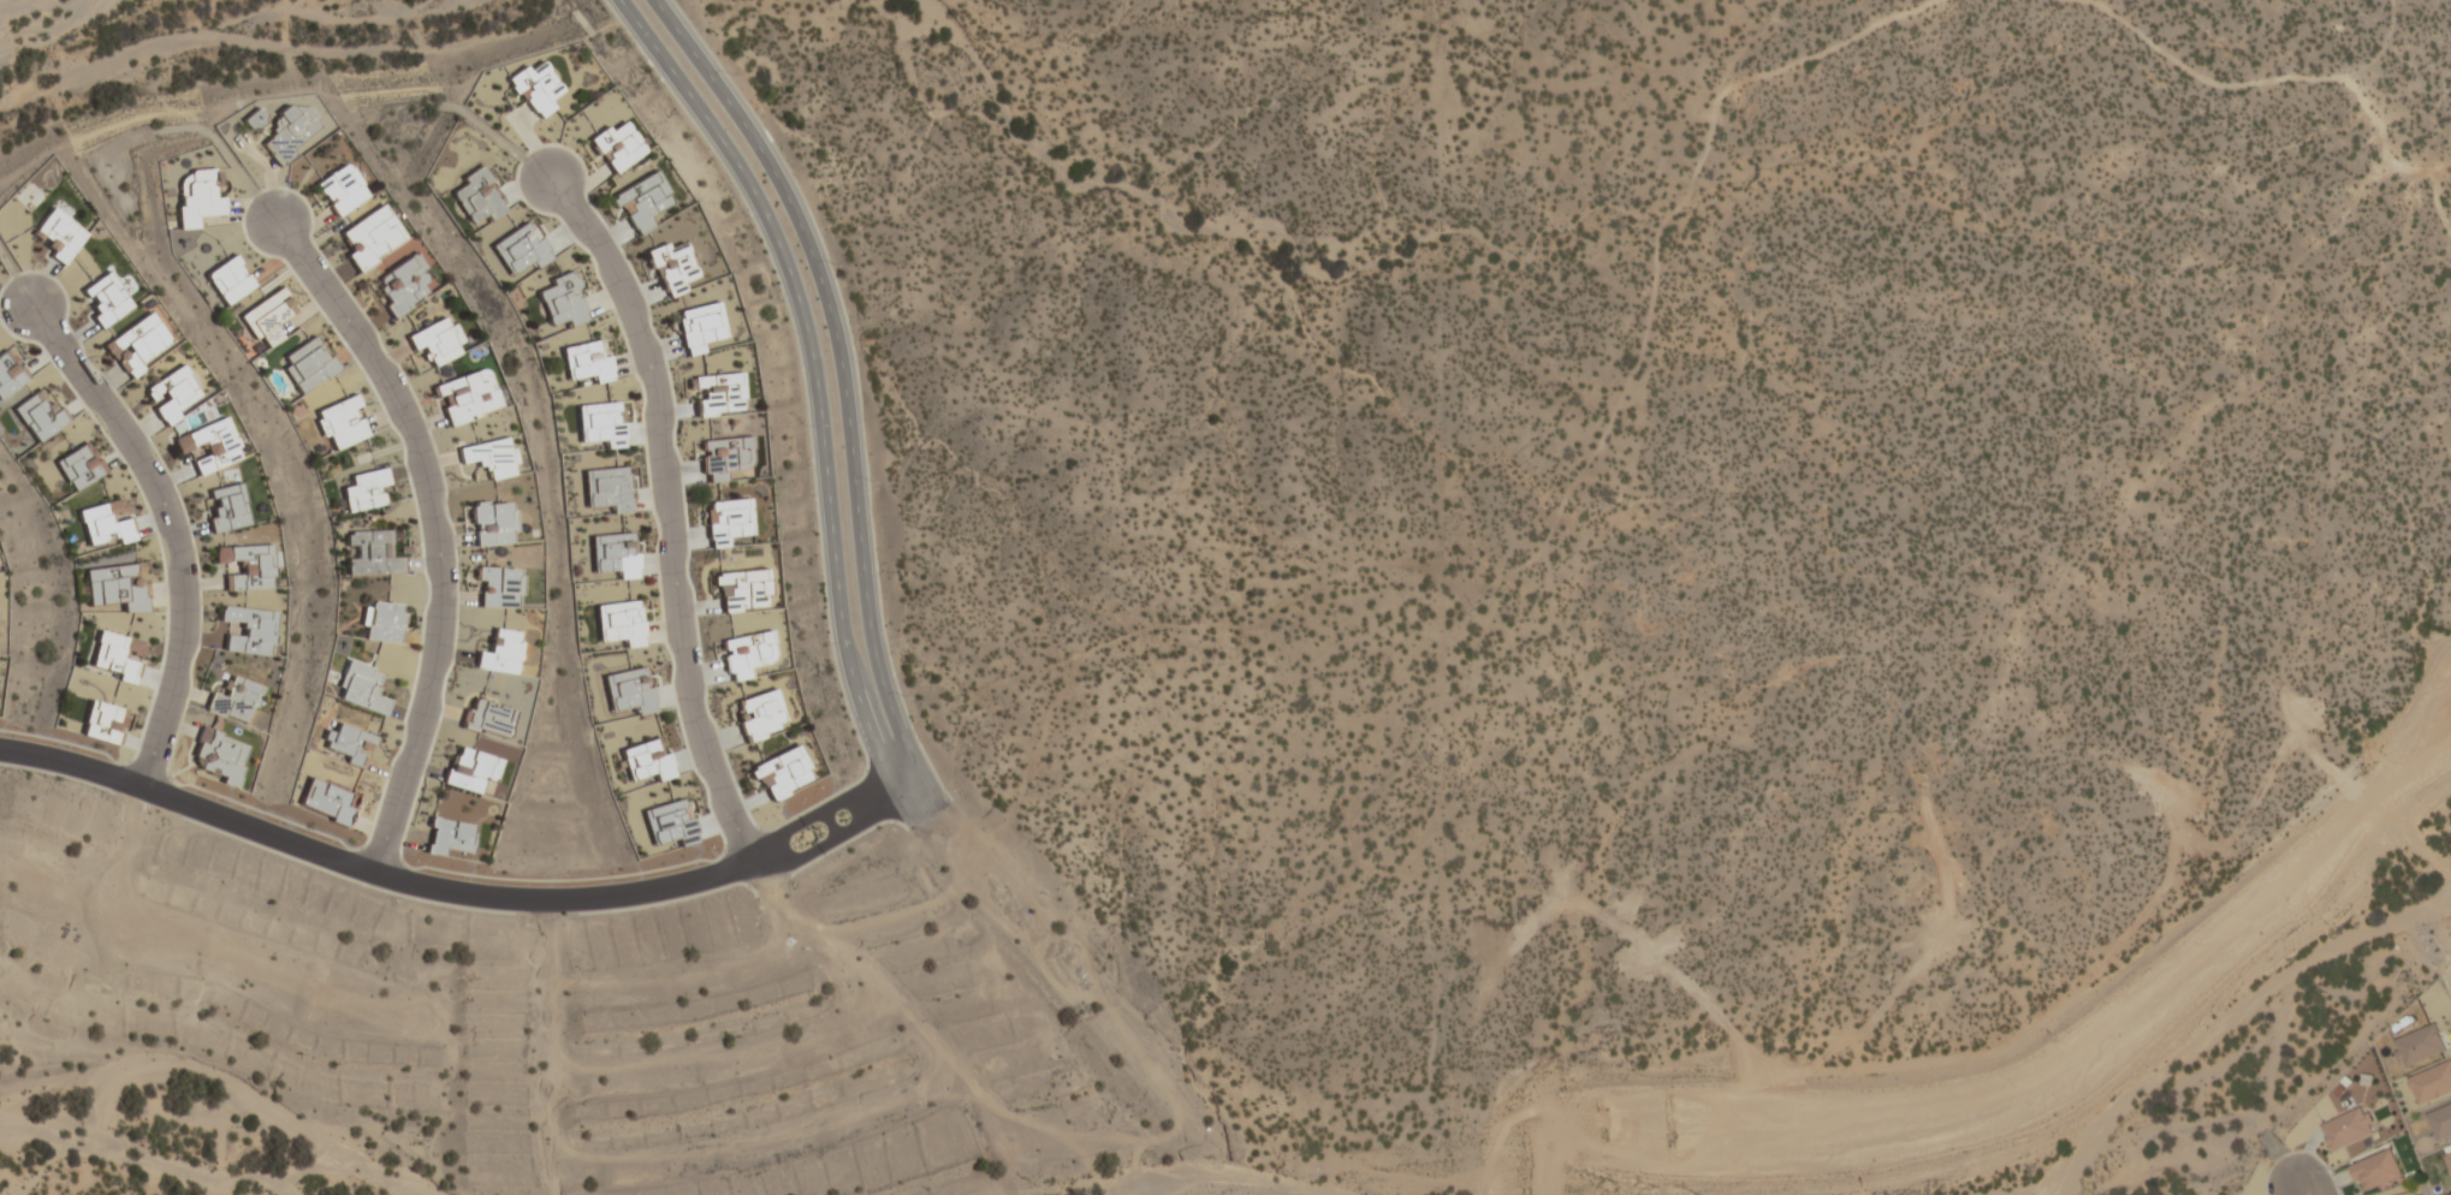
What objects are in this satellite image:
building: (535, 88)
building: (253, 118)
building: (290, 131)
building: (617, 144)
building: (340, 189)
building: (197, 196)
building: (477, 196)
building: (641, 201)
building: (58, 234)
building: (370, 237)
building: (521, 248)
building: (672, 266)
building: (229, 279)
building: (403, 284)
building: (105, 299)
building: (562, 301)
building: (267, 316)
building: (699, 326)
building: (438, 340)
building: (137, 343)
building: (586, 361)
building: (308, 363)
road: (845, 364)
road: (814, 370)
building: (10, 371)
building: (173, 393)
building: (719, 393)
building: (467, 396)
building: (40, 414)
building: (340, 422)
building: (601, 422)
building: (210, 444)
building: (492, 456)
building: (724, 457)
building: (79, 465)
building: (607, 488)
building: (366, 489)
building: (227, 507)
road: (670, 515)
building: (726, 521)
building: (106, 522)
building: (494, 523)
road: (174, 529)
road: (437, 530)
building: (372, 552)
building: (613, 553)
building: (248, 566)
building: (117, 585)
building: (499, 585)
building: (742, 589)
building: (382, 620)
building: (621, 622)
building: (249, 630)
building: (500, 652)
building: (746, 653)
building: (118, 655)
building: (361, 686)
building: (630, 689)
building: (235, 700)
building: (760, 714)
building: (487, 717)
building: (102, 721)
building: (349, 743)
building: (219, 755)
building: (647, 760)
building: (470, 768)
building: (781, 773)
road: (894, 784)
building: (326, 801)
road: (812, 816)
building: (669, 822)
building: (447, 834)
road: (825, 843)
road: (758, 858)
road: (370, 868)
building: (2420, 1044)
building: (2432, 1082)
building: (2440, 1120)
building: (2348, 1128)
building: (2449, 1159)
street lamp: (2330, 1169)
building: (2376, 1170)
road: (2309, 1189)
building: (2405, 1193)

